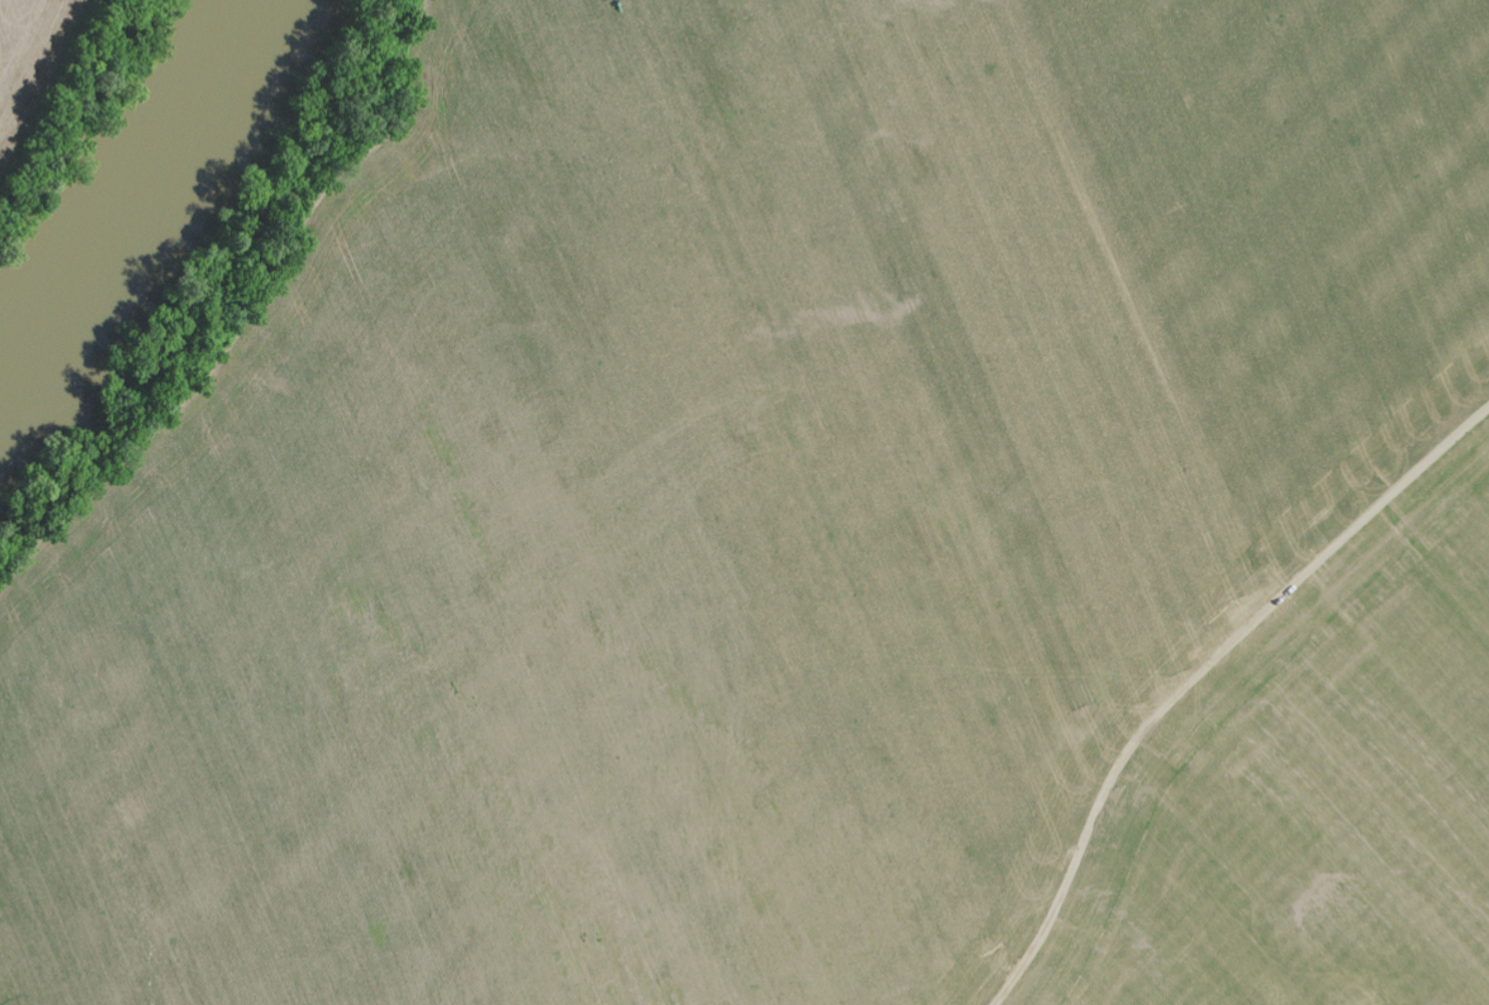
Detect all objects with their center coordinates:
river: (124, 198)
road: (1199, 672)

